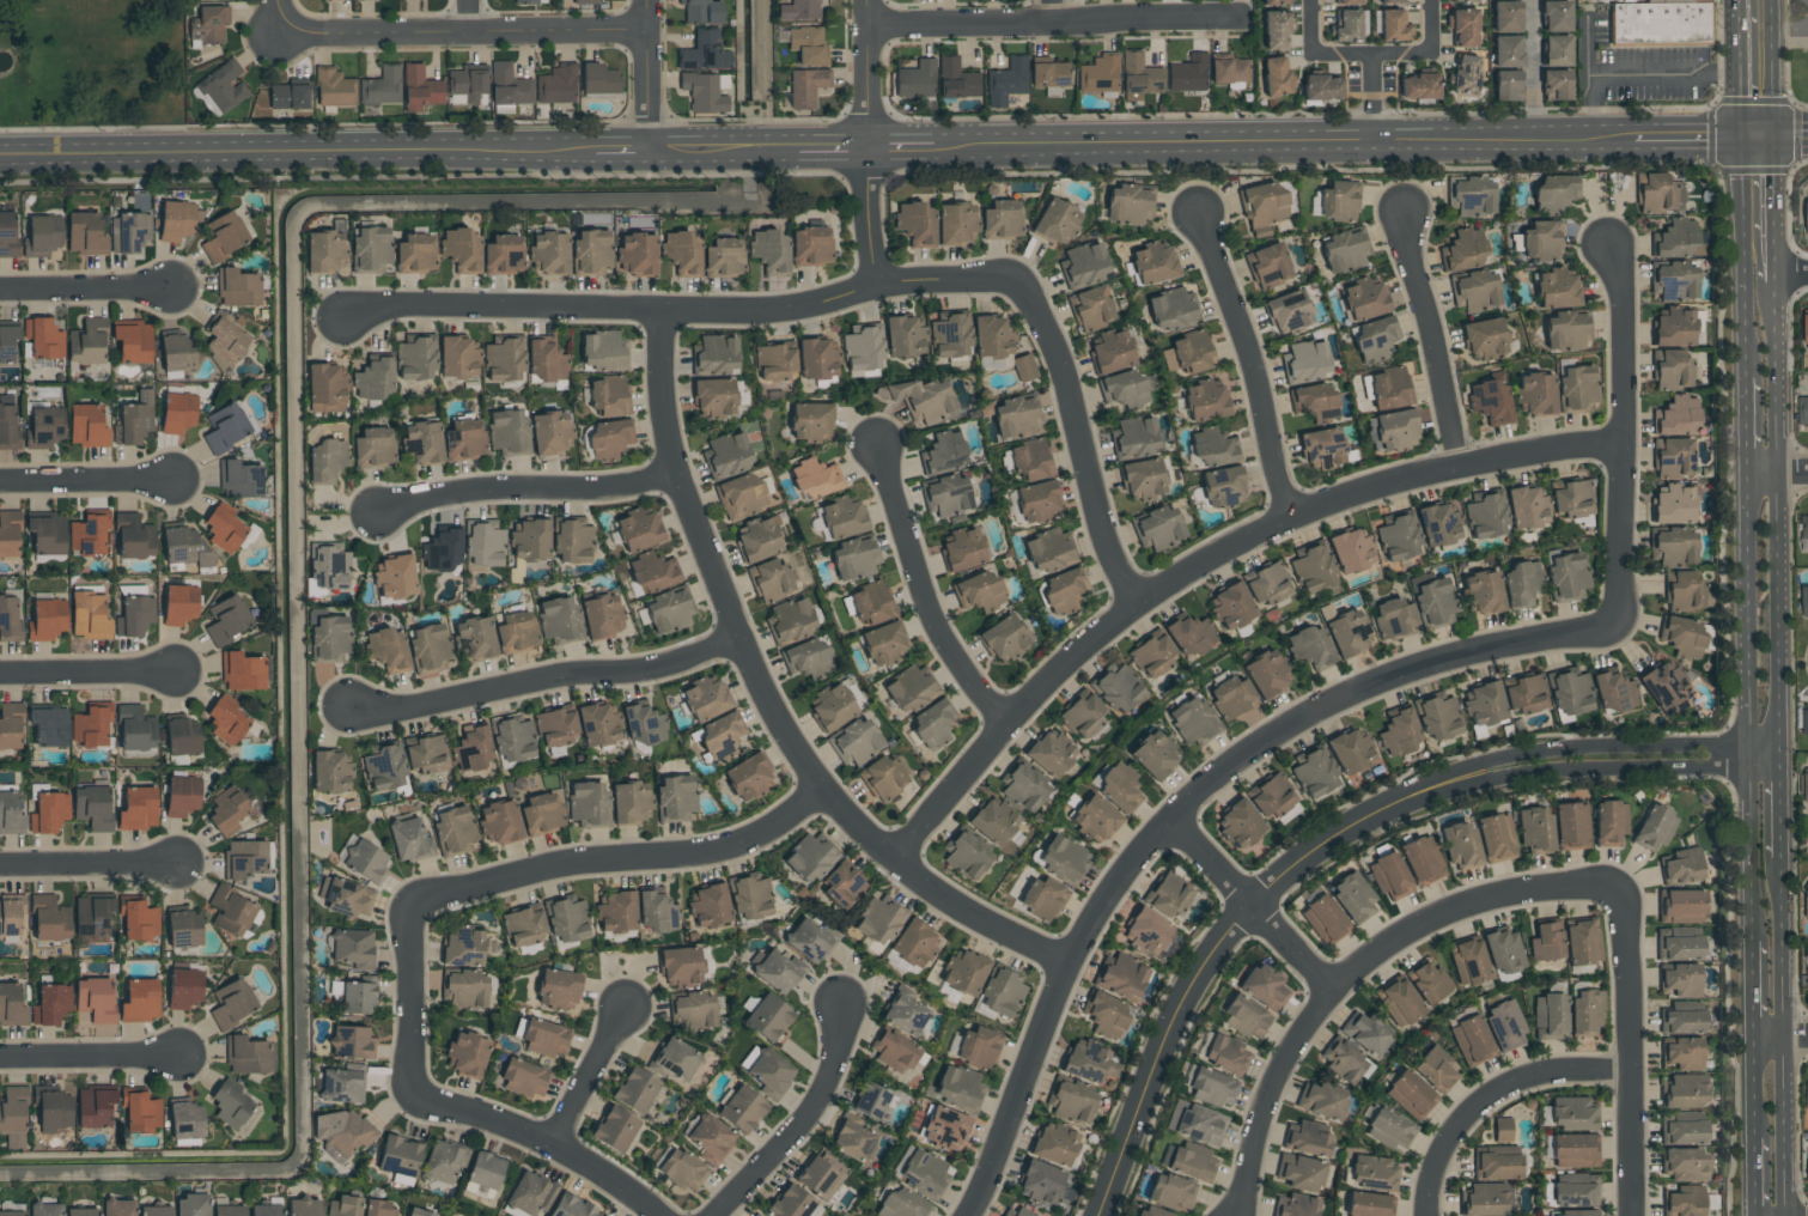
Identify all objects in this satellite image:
building: (530, 1)
building: (1347, 1)
building: (1392, 1)
building: (1463, 1)
building: (586, 2)
building: (1277, 2)
building: (701, 11)
road: (1046, 11)
building: (1556, 16)
road: (280, 17)
road: (467, 17)
building: (1506, 17)
road: (1052, 20)
building: (1350, 22)
building: (1660, 22)
building: (1463, 23)
building: (211, 24)
building: (1390, 24)
building: (1274, 30)
road: (1790, 31)
road: (462, 35)
building: (808, 45)
building: (704, 51)
building: (1506, 51)
building: (1556, 51)
road: (1371, 55)
road: (1739, 67)
road: (1773, 67)
park: (90, 68)
building: (1229, 69)
road: (1535, 69)
building: (1187, 72)
road: (766, 74)
building: (1049, 74)
building: (1098, 74)
building: (1465, 74)
road: (645, 75)
building: (1138, 75)
building: (1276, 75)
road: (1637, 75)
building: (598, 78)
building: (915, 79)
building: (956, 79)
building: (1006, 80)
building: (468, 81)
building: (556, 84)
building: (1418, 84)
building: (509, 85)
building: (1321, 85)
building: (1556, 85)
building: (223, 86)
building: (382, 86)
building: (420, 86)
building: (1506, 86)
building: (334, 87)
building: (806, 87)
building: (705, 91)
building: (288, 96)
road: (1371, 98)
road: (1791, 134)
road: (1758, 135)
traffic signals: (1759, 135)
road: (1686, 136)
road: (1283, 141)
road: (866, 144)
road: (900, 146)
road: (833, 147)
road: (723, 150)
road: (615, 152)
road: (292, 156)
building: (1554, 191)
building: (1471, 194)
building: (1658, 194)
building: (1338, 200)
building: (1127, 202)
road: (1774, 203)
building: (1264, 205)
building: (1002, 218)
building: (176, 219)
building: (1058, 220)
building: (915, 221)
building: (956, 221)
building: (130, 230)
building: (85, 231)
building: (7, 233)
building: (44, 233)
building: (224, 236)
building: (1678, 239)
building: (1541, 241)
building: (811, 244)
building: (462, 245)
building: (371, 247)
building: (769, 248)
building: (324, 249)
building: (592, 249)
building: (415, 250)
building: (638, 250)
building: (683, 250)
building: (1463, 250)
building: (549, 251)
building: (1343, 251)
building: (504, 253)
road: (1743, 253)
building: (724, 257)
building: (1083, 263)
building: (1153, 263)
building: (1267, 265)
road: (1790, 272)
building: (1674, 280)
building: (238, 285)
building: (1556, 288)
road: (86, 290)
building: (1474, 291)
building: (1364, 298)
road: (684, 309)
building: (1091, 309)
building: (1170, 309)
building: (1287, 311)
building: (1673, 327)
building: (1807, 328)
building: (1566, 330)
building: (949, 333)
building: (903, 335)
building: (991, 335)
building: (43, 338)
building: (1484, 338)
building: (1372, 339)
road: (1429, 339)
building: (7, 340)
building: (133, 340)
building: (87, 341)
building: (225, 341)
building: (863, 347)
building: (177, 351)
building: (602, 351)
building: (1112, 352)
building: (1188, 353)
building: (458, 354)
building: (714, 354)
building: (415, 355)
building: (504, 357)
building: (817, 357)
building: (774, 359)
building: (544, 360)
building: (1305, 360)
road: (1249, 363)
building: (1023, 367)
building: (1672, 370)
building: (373, 376)
building: (325, 385)
building: (1578, 385)
building: (1389, 388)
building: (1124, 390)
building: (1536, 391)
building: (608, 395)
building: (713, 397)
building: (920, 399)
building: (1205, 401)
building: (1314, 401)
building: (1490, 401)
building: (1802, 409)
building: (178, 411)
building: (1012, 415)
building: (1676, 417)
building: (134, 419)
building: (810, 421)
road: (1745, 421)
building: (86, 422)
building: (45, 426)
building: (8, 427)
building: (225, 427)
building: (1395, 430)
building: (509, 431)
building: (550, 432)
road: (1623, 434)
building: (1134, 437)
building: (464, 439)
building: (609, 439)
road: (1077, 439)
building: (422, 440)
building: (373, 445)
building: (1321, 448)
building: (1211, 449)
building: (944, 452)
building: (726, 454)
building: (327, 457)
building: (1673, 458)
building: (1029, 460)
road: (1776, 472)
building: (239, 478)
building: (815, 478)
building: (1143, 479)
road: (87, 482)
road: (528, 492)
building: (741, 495)
building: (946, 495)
building: (1571, 497)
building: (1036, 501)
building: (1674, 504)
building: (1526, 506)
road: (1778, 506)
building: (1485, 515)
building: (842, 518)
building: (1438, 524)
building: (1157, 528)
building: (637, 529)
building: (8, 531)
building: (224, 531)
building: (1804, 531)
building: (90, 533)
building: (47, 534)
building: (133, 536)
building: (1398, 536)
building: (531, 539)
building: (757, 540)
building: (571, 541)
building: (483, 543)
building: (185, 546)
building: (1673, 547)
building: (442, 549)
building: (962, 549)
building: (1350, 551)
building: (1048, 552)
building: (854, 558)
road: (1206, 561)
building: (328, 565)
building: (1311, 567)
building: (652, 572)
building: (1566, 574)
building: (395, 577)
building: (772, 580)
building: (1521, 582)
building: (1267, 583)
building: (978, 590)
building: (1484, 590)
building: (1061, 591)
building: (1686, 591)
road: (923, 594)
building: (1436, 601)
building: (1804, 601)
building: (869, 602)
building: (179, 603)
building: (1230, 607)
building: (669, 610)
building: (89, 615)
building: (135, 615)
building: (559, 618)
building: (1394, 618)
building: (47, 619)
building: (227, 619)
building: (10, 620)
building: (790, 620)
building: (1345, 630)
building: (517, 631)
building: (1189, 636)
building: (328, 637)
building: (1684, 637)
building: (475, 638)
building: (1003, 638)
building: (882, 644)
building: (428, 646)
building: (1309, 646)
building: (388, 650)
building: (1151, 655)
building: (808, 658)
building: (242, 670)
building: (1266, 674)
road: (86, 675)
road: (537, 679)
building: (1663, 685)
building: (1116, 688)
building: (909, 689)
building: (1524, 692)
building: (1569, 692)
building: (1613, 692)
building: (1231, 697)
building: (704, 699)
road: (767, 699)
building: (1485, 703)
building: (832, 707)
road: (1748, 709)
building: (1082, 715)
building: (1437, 717)
building: (1806, 721)
building: (226, 722)
building: (1194, 722)
building: (643, 723)
building: (597, 724)
building: (932, 724)
building: (10, 725)
building: (49, 725)
building: (91, 725)
building: (555, 728)
building: (135, 729)
building: (1399, 731)
building: (182, 735)
building: (719, 736)
building: (854, 742)
building: (473, 747)
road: (1547, 748)
building: (1351, 752)
building: (426, 754)
building: (1051, 754)
building: (1155, 755)
building: (330, 771)
road: (1552, 771)
building: (1314, 772)
building: (748, 778)
building: (883, 778)
building: (1023, 786)
building: (1118, 786)
building: (1806, 788)
building: (182, 796)
building: (1271, 796)
building: (676, 797)
building: (631, 801)
building: (589, 802)
road: (1778, 802)
building: (92, 807)
road: (1186, 807)
building: (139, 808)
building: (227, 810)
building: (49, 811)
building: (10, 813)
building: (541, 813)
building: (1092, 817)
building: (499, 822)
building: (993, 822)
building: (1611, 822)
building: (1238, 823)
building: (1571, 825)
building: (1534, 828)
building: (1655, 828)
building: (453, 831)
building: (1496, 838)
building: (408, 839)
building: (1460, 845)
building: (966, 853)
building: (244, 858)
building: (809, 858)
building: (1061, 858)
building: (363, 859)
road: (619, 861)
building: (1422, 861)
building: (1681, 867)
road: (87, 869)
building: (1389, 876)
building: (841, 886)
building: (1168, 895)
building: (346, 896)
building: (750, 898)
building: (1352, 898)
building: (1043, 899)
road: (1248, 901)
building: (708, 906)
building: (1680, 906)
building: (231, 911)
building: (617, 912)
building: (657, 912)
building: (92, 914)
building: (10, 916)
building: (49, 918)
building: (1323, 919)
building: (139, 920)
building: (566, 920)
building: (877, 923)
building: (523, 926)
building: (184, 930)
building: (1150, 935)
building: (809, 938)
building: (1546, 942)
building: (1582, 942)
building: (1679, 943)
building: (914, 944)
building: (463, 947)
building: (352, 948)
building: (1504, 951)
road: (1357, 962)
building: (1468, 962)
building: (680, 966)
building: (774, 971)
building: (1807, 972)
building: (964, 973)
building: (1120, 977)
building: (1679, 980)
building: (1429, 981)
building: (184, 987)
building: (1264, 987)
building: (465, 989)
building: (558, 989)
road: (1754, 991)
road: (407, 992)
building: (95, 998)
building: (357, 998)
building: (140, 999)
road: (1181, 1001)
building: (1399, 1003)
building: (11, 1004)
building: (51, 1004)
building: (232, 1004)
building: (692, 1010)
building: (1585, 1013)
building: (906, 1015)
building: (1106, 1015)
building: (1550, 1015)
building: (768, 1017)
building: (1246, 1019)
building: (1682, 1022)
building: (1504, 1026)
building: (1365, 1033)
road: (1782, 1038)
building: (544, 1039)
road: (1783, 1039)
building: (1472, 1041)
building: (352, 1042)
building: (979, 1047)
building: (893, 1050)
road: (92, 1051)
building: (1682, 1052)
building: (246, 1054)
building: (467, 1054)
building: (1225, 1054)
road: (1627, 1057)
building: (676, 1059)
building: (1345, 1060)
building: (1089, 1063)
building: (1436, 1069)
road: (591, 1071)
building: (769, 1072)
building: (524, 1080)
building: (341, 1086)
building: (1211, 1087)
road: (1755, 1087)
building: (960, 1088)
building: (635, 1090)
building: (1684, 1090)
building: (1411, 1095)
road: (1492, 1096)
building: (1807, 1096)
building: (872, 1101)
building: (1070, 1101)
building: (1322, 1101)
building: (95, 1106)
building: (230, 1106)
building: (51, 1108)
building: (742, 1109)
building: (140, 1111)
building: (1571, 1113)
building: (13, 1117)
building: (185, 1120)
building: (1195, 1123)
road: (802, 1124)
building: (614, 1129)
building: (946, 1130)
building: (1389, 1130)
building: (1502, 1130)
building: (1684, 1132)
building: (341, 1133)
road: (542, 1135)
building: (853, 1138)
building: (1305, 1138)
building: (710, 1139)
building: (1054, 1145)
building: (1575, 1150)
building: (400, 1157)
building: (443, 1161)
building: (1189, 1162)
building: (1496, 1162)
building: (1685, 1165)
building: (1807, 1167)
building: (682, 1171)
building: (923, 1172)
building: (1299, 1173)
building: (1372, 1173)
building: (483, 1175)
road: (1755, 1177)
building: (818, 1178)
building: (1041, 1184)
building: (1171, 1191)
building: (1573, 1191)
building: (524, 1196)
building: (1483, 1199)
building: (1682, 1200)
building: (790, 1203)
building: (900, 1204)
building: (1368, 1204)
building: (191, 1205)
building: (1295, 1205)
building: (303, 1206)
building: (342, 1206)
building: (571, 1206)
building: (118, 1208)
building: (378, 1209)
building: (44, 1210)
building: (229, 1210)
building: (264, 1210)
building: (81, 1211)
building: (154, 1211)
building: (1151, 1211)
building: (12, 1212)
building: (419, 1212)
building: (1016, 1212)
building: (1575, 1212)
building: (603, 1215)

